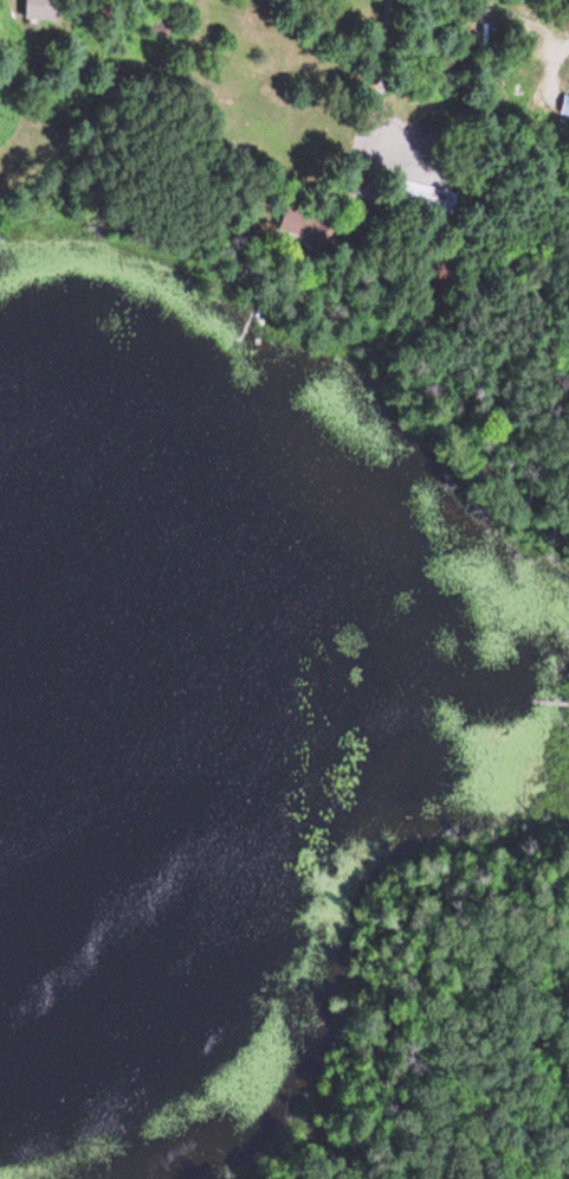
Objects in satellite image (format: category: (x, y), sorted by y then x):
building: (33, 9)
building: (422, 198)
building: (290, 225)

